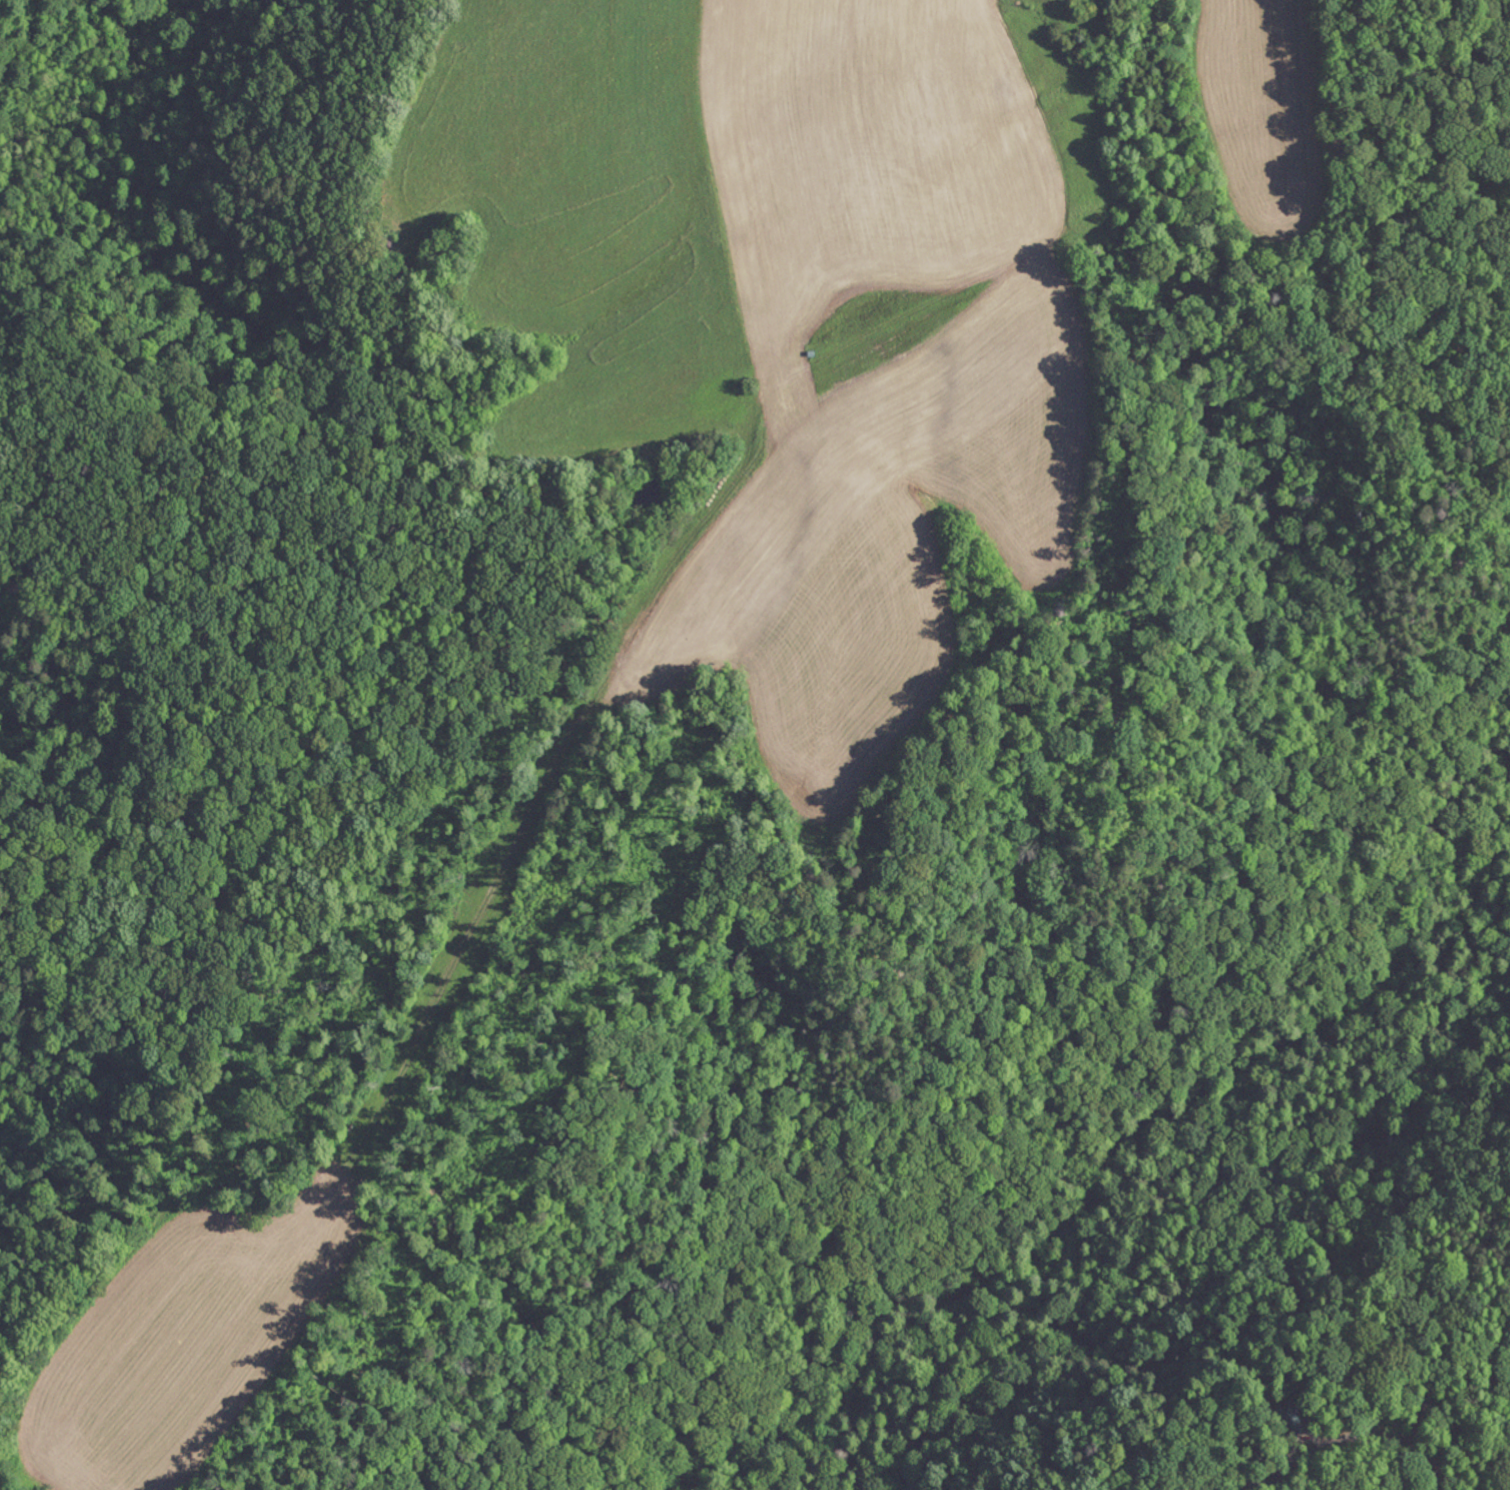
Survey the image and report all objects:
road: (1346, 1437)

